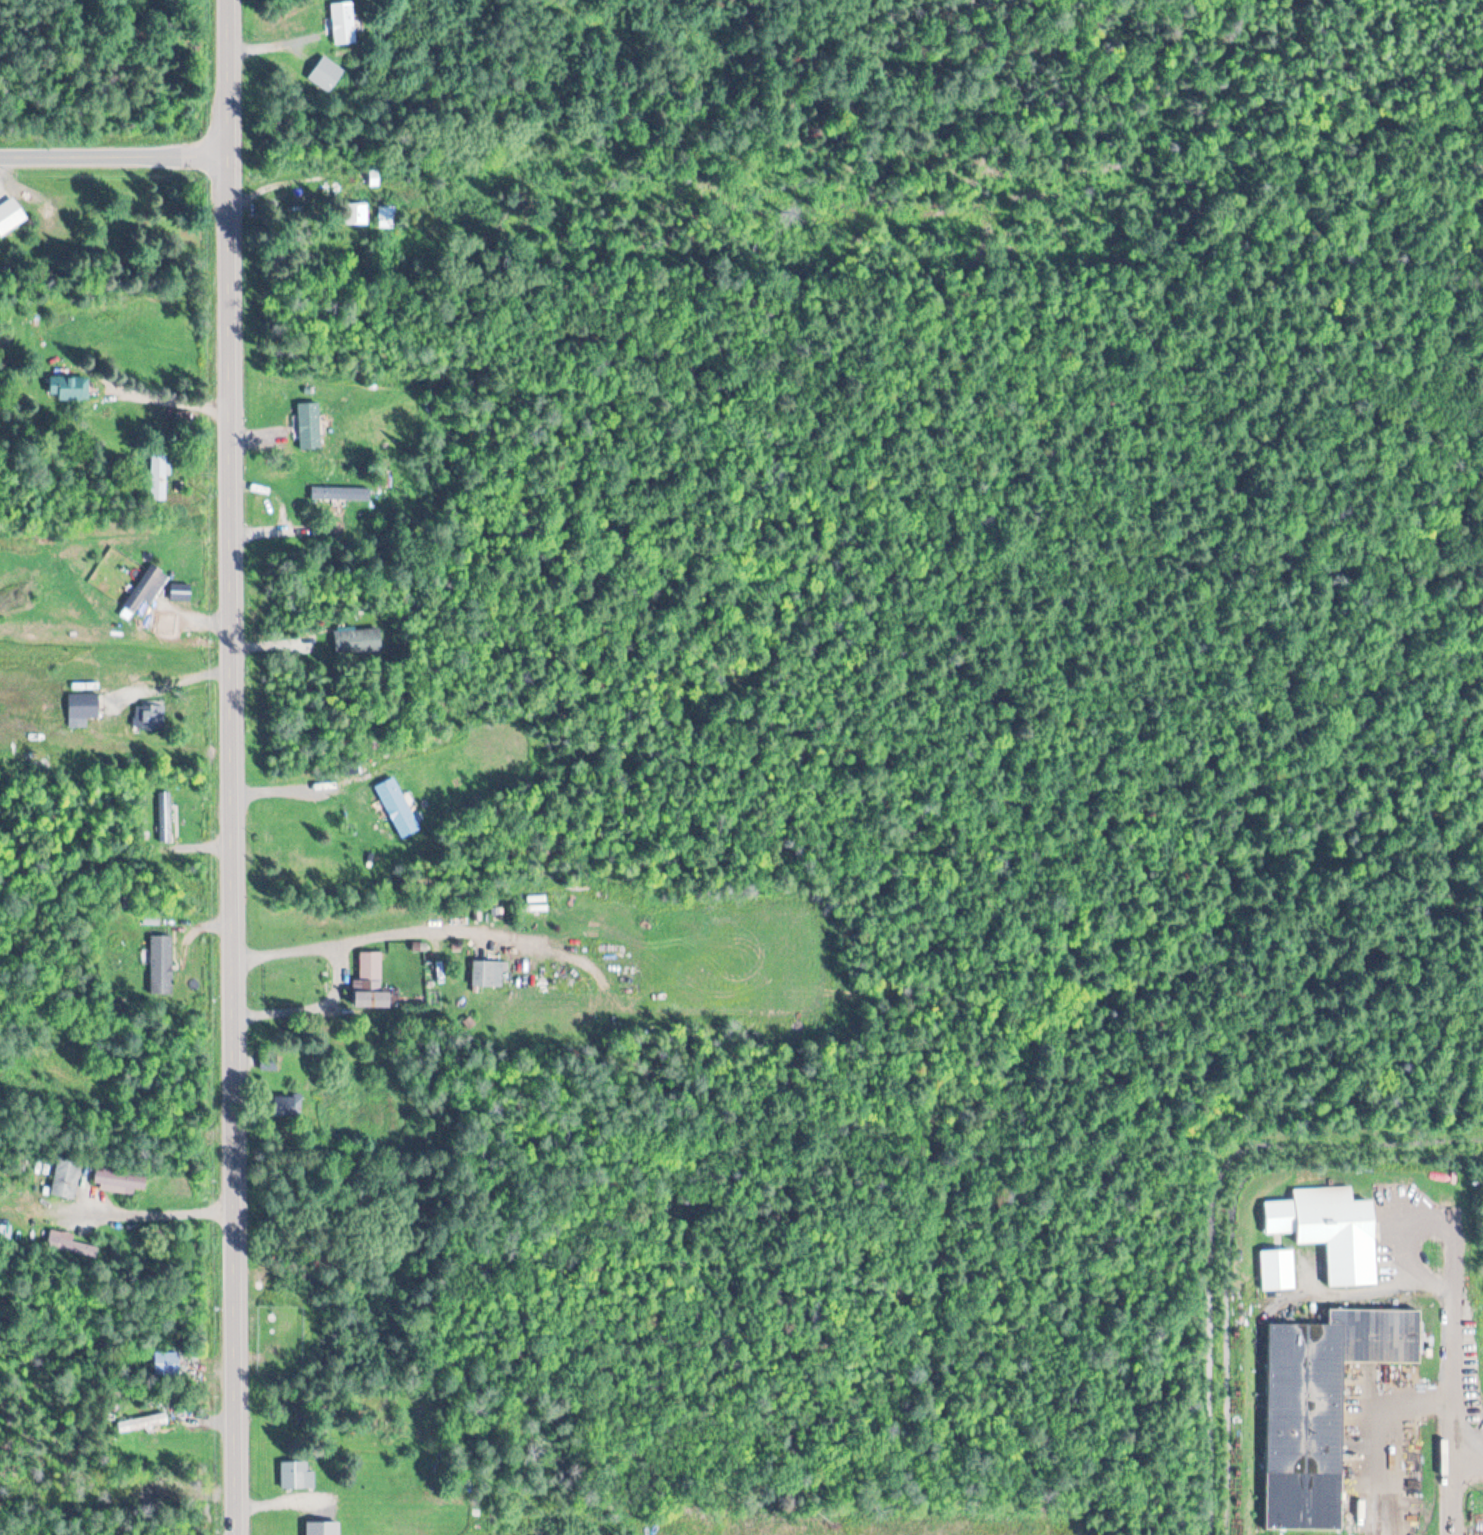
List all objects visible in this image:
building: (343, 23)
building: (326, 75)
road: (227, 78)
road: (113, 155)
building: (357, 214)
building: (10, 216)
building: (69, 387)
building: (309, 424)
building: (160, 477)
building: (340, 493)
building: (146, 591)
building: (356, 641)
building: (82, 709)
building: (398, 807)
building: (165, 816)
road: (231, 845)
building: (533, 908)
road: (420, 932)
building: (162, 965)
building: (488, 973)
building: (372, 981)
road: (307, 1008)
building: (268, 1063)
building: (289, 1107)
building: (65, 1178)
building: (120, 1179)
road: (138, 1215)
building: (1332, 1231)
building: (68, 1244)
building: (1279, 1270)
building: (167, 1363)
building: (1323, 1406)
building: (143, 1422)
building: (298, 1473)
building: (323, 1527)

